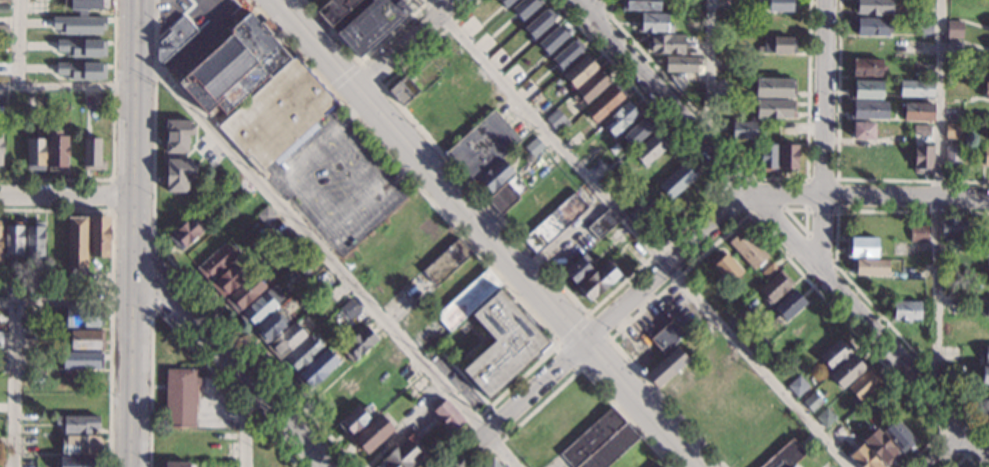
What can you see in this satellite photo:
building: (5, 2)
building: (505, 2)
building: (90, 5)
building: (640, 5)
building: (781, 5)
building: (524, 7)
building: (874, 7)
building: (4, 9)
road: (602, 9)
building: (334, 10)
road: (594, 11)
road: (150, 14)
building: (538, 23)
building: (653, 24)
building: (371, 25)
building: (81, 26)
building: (871, 26)
building: (954, 28)
building: (924, 30)
building: (173, 38)
building: (552, 39)
road: (403, 42)
road: (17, 43)
building: (666, 44)
building: (777, 45)
building: (83, 48)
building: (566, 54)
road: (133, 59)
road: (361, 59)
building: (682, 64)
building: (866, 68)
building: (82, 71)
building: (579, 71)
building: (988, 71)
road: (707, 74)
road: (370, 75)
road: (344, 76)
building: (722, 84)
road: (66, 86)
building: (404, 87)
building: (590, 88)
building: (775, 88)
building: (916, 89)
building: (866, 90)
building: (986, 91)
building: (258, 93)
road: (364, 97)
building: (95, 99)
building: (30, 103)
building: (604, 103)
building: (775, 109)
building: (868, 110)
building: (916, 112)
road: (345, 118)
building: (620, 118)
building: (557, 121)
building: (743, 130)
building: (637, 131)
building: (863, 131)
building: (952, 131)
building: (988, 133)
building: (923, 134)
road: (823, 135)
building: (176, 136)
building: (896, 140)
building: (1, 145)
road: (112, 145)
building: (481, 147)
building: (534, 147)
building: (650, 148)
building: (56, 151)
building: (92, 153)
building: (35, 154)
building: (986, 156)
road: (132, 157)
building: (952, 157)
building: (768, 158)
building: (787, 158)
building: (922, 159)
road: (837, 165)
road: (290, 171)
building: (176, 174)
road: (397, 175)
road: (753, 175)
building: (495, 176)
road: (132, 178)
building: (677, 181)
parking lot: (339, 182)
building: (506, 194)
road: (112, 196)
road: (867, 196)
road: (66, 197)
road: (939, 200)
building: (643, 209)
road: (805, 209)
road: (753, 211)
building: (265, 215)
road: (742, 216)
park: (799, 218)
road: (796, 221)
building: (553, 224)
building: (602, 224)
road: (131, 225)
road: (780, 229)
building: (953, 229)
building: (185, 233)
building: (918, 233)
road: (637, 236)
building: (0, 237)
building: (99, 237)
building: (13, 239)
road: (465, 240)
building: (34, 241)
building: (77, 246)
building: (861, 247)
building: (985, 249)
building: (747, 250)
road: (325, 257)
road: (830, 260)
building: (446, 262)
building: (216, 263)
road: (174, 264)
building: (305, 265)
building: (725, 267)
building: (871, 267)
building: (988, 268)
building: (578, 270)
building: (768, 271)
road: (841, 273)
road: (152, 276)
building: (227, 280)
building: (597, 281)
road: (113, 283)
building: (774, 287)
building: (337, 292)
building: (244, 294)
building: (466, 300)
road: (64, 304)
building: (788, 306)
building: (261, 308)
building: (349, 310)
building: (987, 310)
road: (130, 311)
building: (905, 311)
road: (588, 312)
building: (82, 317)
road: (175, 327)
building: (269, 328)
road: (572, 329)
road: (598, 332)
road: (574, 334)
building: (667, 336)
building: (85, 339)
building: (1, 340)
building: (286, 341)
building: (503, 342)
building: (358, 344)
building: (759, 344)
road: (595, 352)
building: (983, 352)
building: (302, 354)
building: (834, 355)
road: (233, 356)
building: (29, 360)
building: (82, 361)
building: (666, 367)
building: (316, 370)
building: (847, 371)
road: (575, 372)
building: (955, 373)
building: (985, 375)
road: (12, 385)
building: (797, 386)
building: (863, 386)
building: (416, 387)
building: (180, 398)
building: (812, 402)
building: (988, 403)
building: (448, 416)
building: (825, 418)
road: (129, 419)
building: (354, 420)
road: (251, 421)
building: (77, 424)
road: (942, 432)
building: (371, 434)
building: (840, 434)
building: (898, 436)
building: (600, 443)
building: (80, 445)
building: (880, 447)
road: (955, 453)
building: (402, 455)
building: (785, 455)
building: (863, 457)
building: (79, 461)
road: (959, 462)
road: (969, 462)
building: (491, 464)
building: (174, 465)
building: (663, 466)
building: (791, 466)

